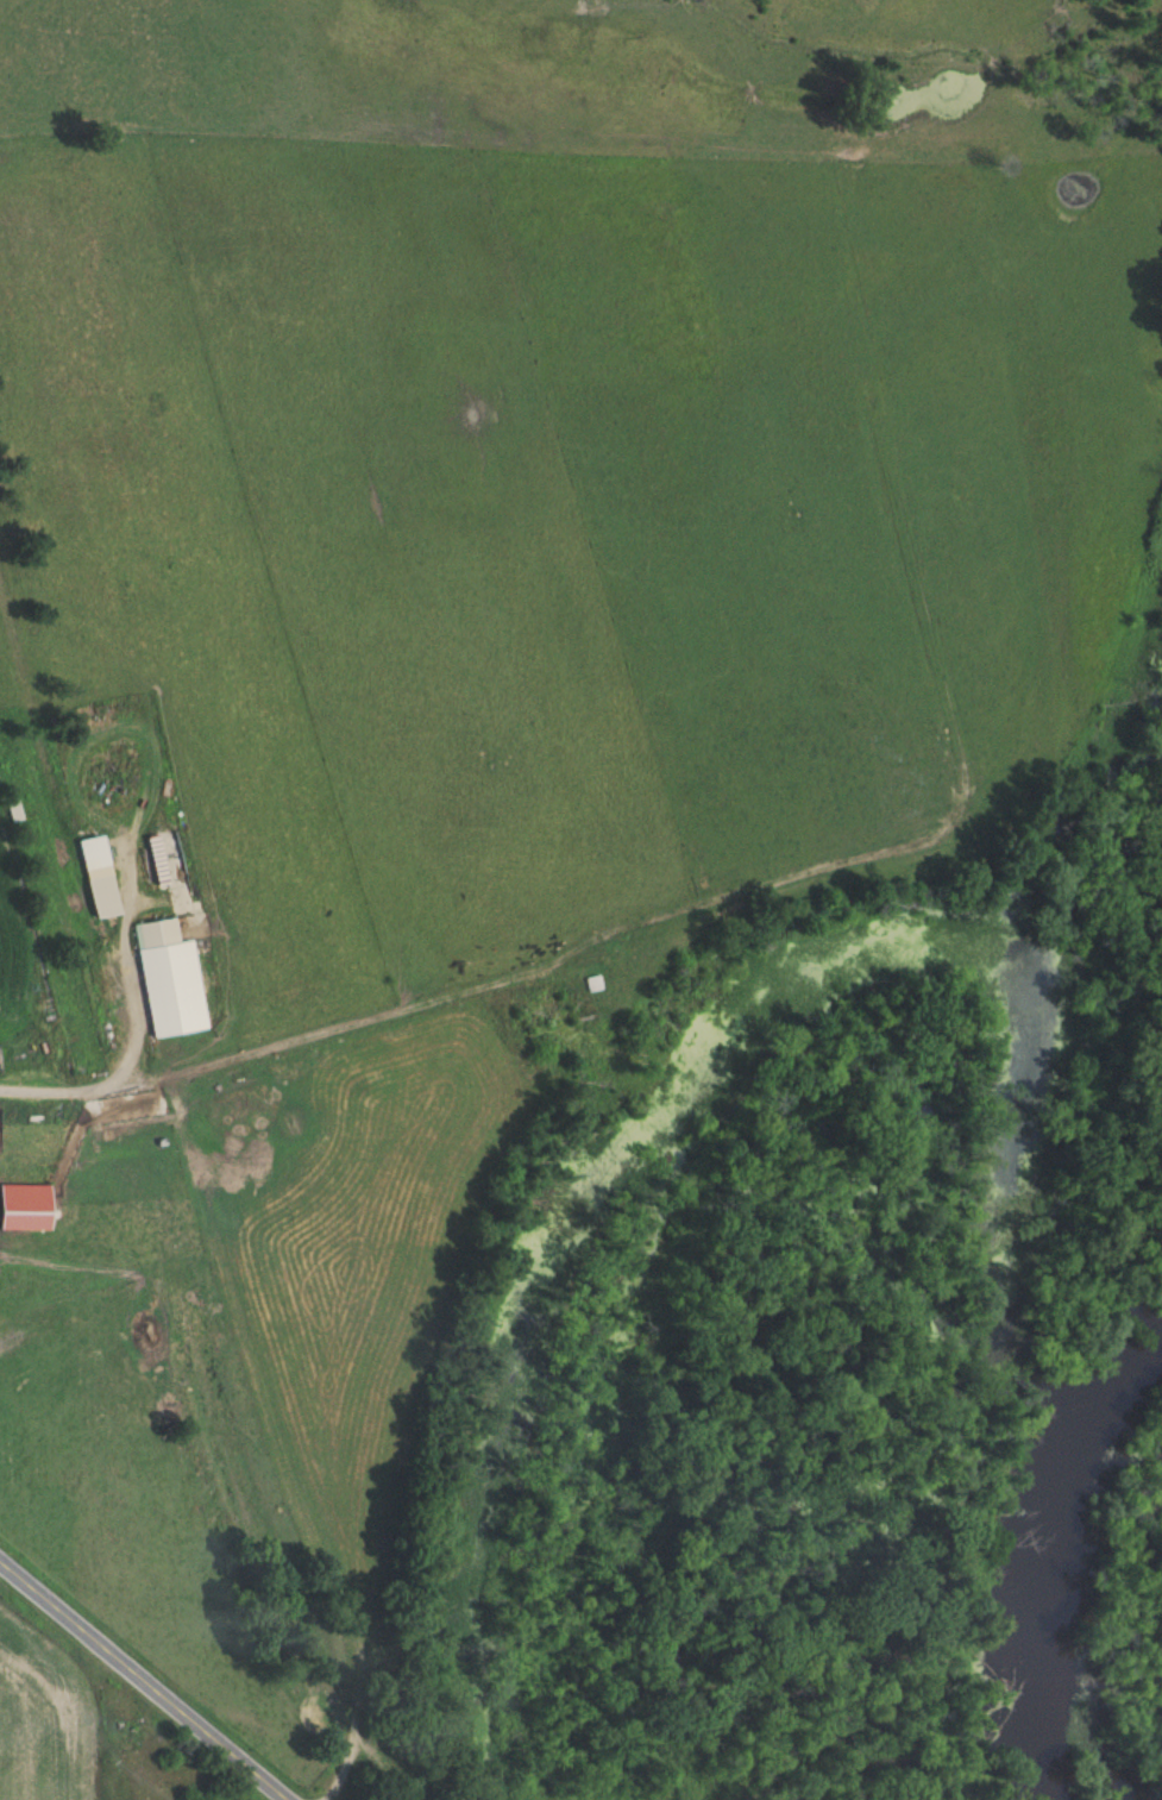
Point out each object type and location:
building: (106, 765)
building: (14, 810)
building: (95, 877)
building: (170, 979)
building: (592, 984)
road: (119, 1048)
river: (1060, 1576)
road: (145, 1680)

